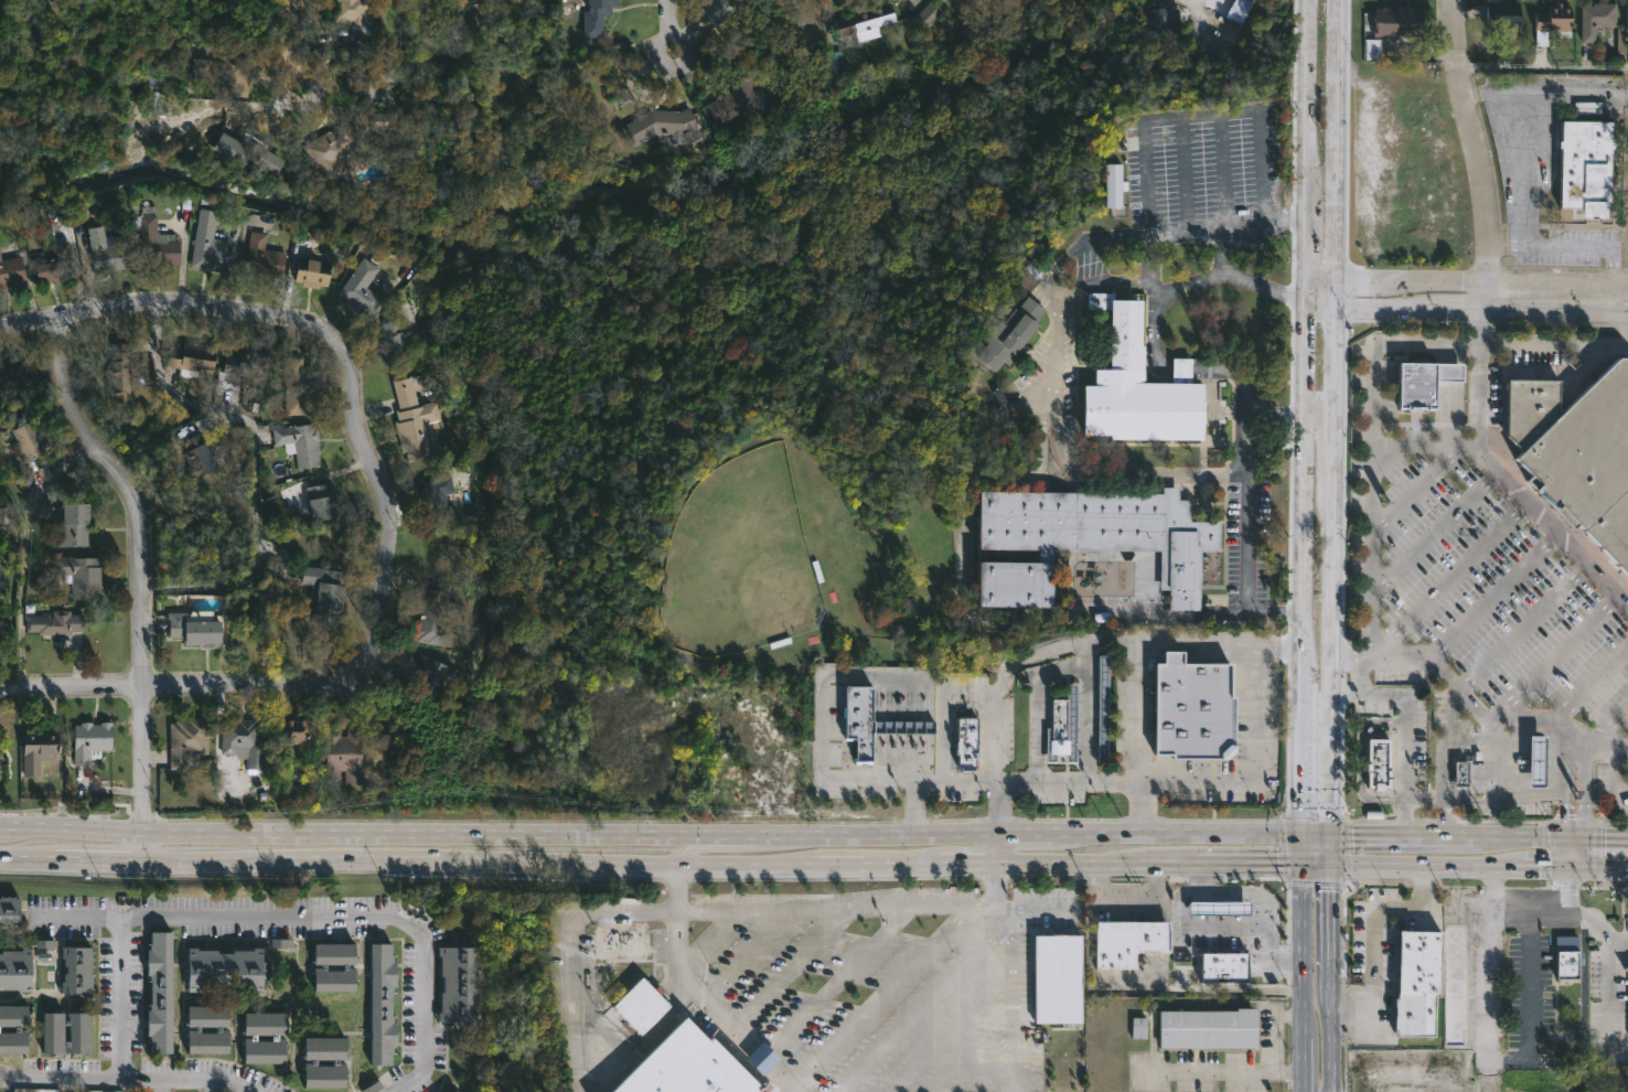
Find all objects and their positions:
building: (792, 9)
building: (718, 10)
building: (927, 13)
building: (1503, 14)
building: (596, 15)
building: (354, 18)
building: (1597, 18)
building: (1156, 19)
building: (1397, 21)
building: (868, 22)
building: (1553, 23)
building: (1627, 23)
road: (672, 25)
road: (292, 45)
building: (835, 62)
road: (1541, 67)
building: (202, 68)
building: (231, 69)
building: (369, 83)
building: (738, 101)
road: (1208, 115)
building: (383, 120)
building: (662, 125)
road: (1334, 138)
road: (1472, 144)
building: (328, 150)
building: (246, 152)
building: (1579, 163)
road: (1223, 173)
road: (1185, 175)
parking lot: (1207, 181)
building: (1116, 185)
road: (1305, 211)
road: (1285, 220)
road: (1086, 238)
building: (156, 240)
building: (210, 245)
road: (1571, 246)
building: (108, 250)
building: (263, 258)
building: (56, 265)
building: (313, 270)
building: (11, 271)
road: (1319, 276)
road: (1352, 276)
road: (1427, 276)
road: (1106, 281)
road: (1196, 282)
building: (361, 288)
road: (1334, 291)
road: (1554, 295)
road: (1463, 297)
road: (1389, 304)
road: (1319, 307)
road: (1479, 318)
building: (1013, 333)
building: (392, 341)
building: (192, 358)
building: (246, 363)
road: (1332, 364)
road: (1178, 367)
road: (1236, 374)
building: (11, 375)
building: (119, 375)
building: (1429, 383)
building: (1135, 384)
building: (296, 387)
road: (1372, 394)
building: (1528, 407)
road: (1278, 420)
building: (415, 421)
road: (1318, 422)
road: (371, 439)
building: (28, 442)
building: (299, 443)
road: (1424, 443)
road: (1250, 445)
building: (196, 458)
building: (1587, 461)
road: (254, 463)
road: (1068, 464)
road: (1424, 483)
road: (1517, 488)
building: (435, 502)
building: (321, 503)
building: (4, 517)
building: (73, 526)
road: (1435, 529)
building: (1085, 540)
road: (1249, 542)
parking lot: (1265, 546)
road: (22, 555)
building: (78, 576)
road: (142, 576)
road: (1449, 577)
building: (323, 592)
road: (1491, 592)
road: (1255, 611)
road: (965, 613)
building: (431, 619)
road: (1521, 622)
building: (53, 624)
building: (1, 628)
building: (195, 629)
road: (1068, 642)
road: (1304, 642)
road: (1330, 642)
road: (1550, 654)
road: (1354, 676)
building: (431, 678)
road: (1589, 681)
road: (92, 685)
road: (1033, 695)
building: (1100, 708)
building: (1189, 708)
road: (1493, 716)
road: (1086, 720)
building: (869, 721)
road: (1602, 722)
road: (823, 724)
building: (1062, 729)
building: (291, 730)
road: (1407, 730)
road: (941, 737)
road: (1135, 737)
building: (242, 740)
building: (90, 741)
building: (186, 741)
building: (962, 742)
building: (39, 750)
building: (343, 756)
road: (1445, 756)
road: (1568, 756)
road: (1359, 760)
building: (1535, 760)
building: (1374, 763)
building: (1459, 773)
road: (1193, 781)
road: (1584, 790)
road: (911, 792)
road: (1504, 795)
road: (1565, 803)
traffic signals: (1565, 814)
road: (664, 833)
traffic signals: (1303, 835)
traffic signals: (1329, 835)
road: (1393, 835)
road: (1468, 837)
road: (1524, 837)
road: (730, 838)
road: (1599, 838)
traffic signals: (1604, 839)
road: (996, 846)
road: (1571, 853)
road: (598, 859)
road: (1250, 863)
traffic signals: (1303, 863)
traffic signals: (1329, 864)
road: (1465, 865)
traffic signals: (1539, 867)
road: (1487, 890)
road: (1568, 890)
traffic signals: (1568, 893)
road: (1259, 901)
road: (1127, 902)
building: (9, 908)
building: (1214, 908)
gas station: (1214, 908)
road: (1036, 910)
road: (720, 913)
road: (323, 917)
road: (1329, 918)
road: (574, 928)
road: (1195, 930)
road: (705, 940)
road: (1618, 940)
building: (622, 941)
building: (44, 944)
building: (1124, 944)
road: (1371, 945)
building: (336, 952)
building: (1568, 955)
road: (745, 957)
building: (15, 967)
building: (77, 967)
building: (1222, 967)
building: (225, 968)
road: (1609, 970)
building: (1625, 970)
road: (789, 971)
building: (336, 977)
road: (1303, 977)
building: (1056, 978)
building: (460, 981)
building: (1454, 983)
road: (832, 985)
road: (943, 985)
road: (1209, 989)
building: (158, 991)
road: (1486, 996)
road: (121, 997)
road: (878, 998)
road: (1583, 999)
building: (384, 1003)
building: (640, 1006)
road: (1013, 1007)
road: (1530, 1008)
building: (13, 1015)
building: (1411, 1015)
building: (210, 1016)
building: (266, 1023)
road: (1270, 1027)
building: (53, 1030)
building: (1203, 1030)
building: (79, 1031)
road: (1329, 1031)
road: (956, 1034)
building: (13, 1040)
building: (210, 1040)
building: (325, 1047)
building: (266, 1048)
road: (983, 1061)
building: (695, 1064)
building: (325, 1072)
road: (1215, 1072)
road: (125, 1078)
road: (156, 1085)
road: (205, 1086)
building: (457, 1091)

